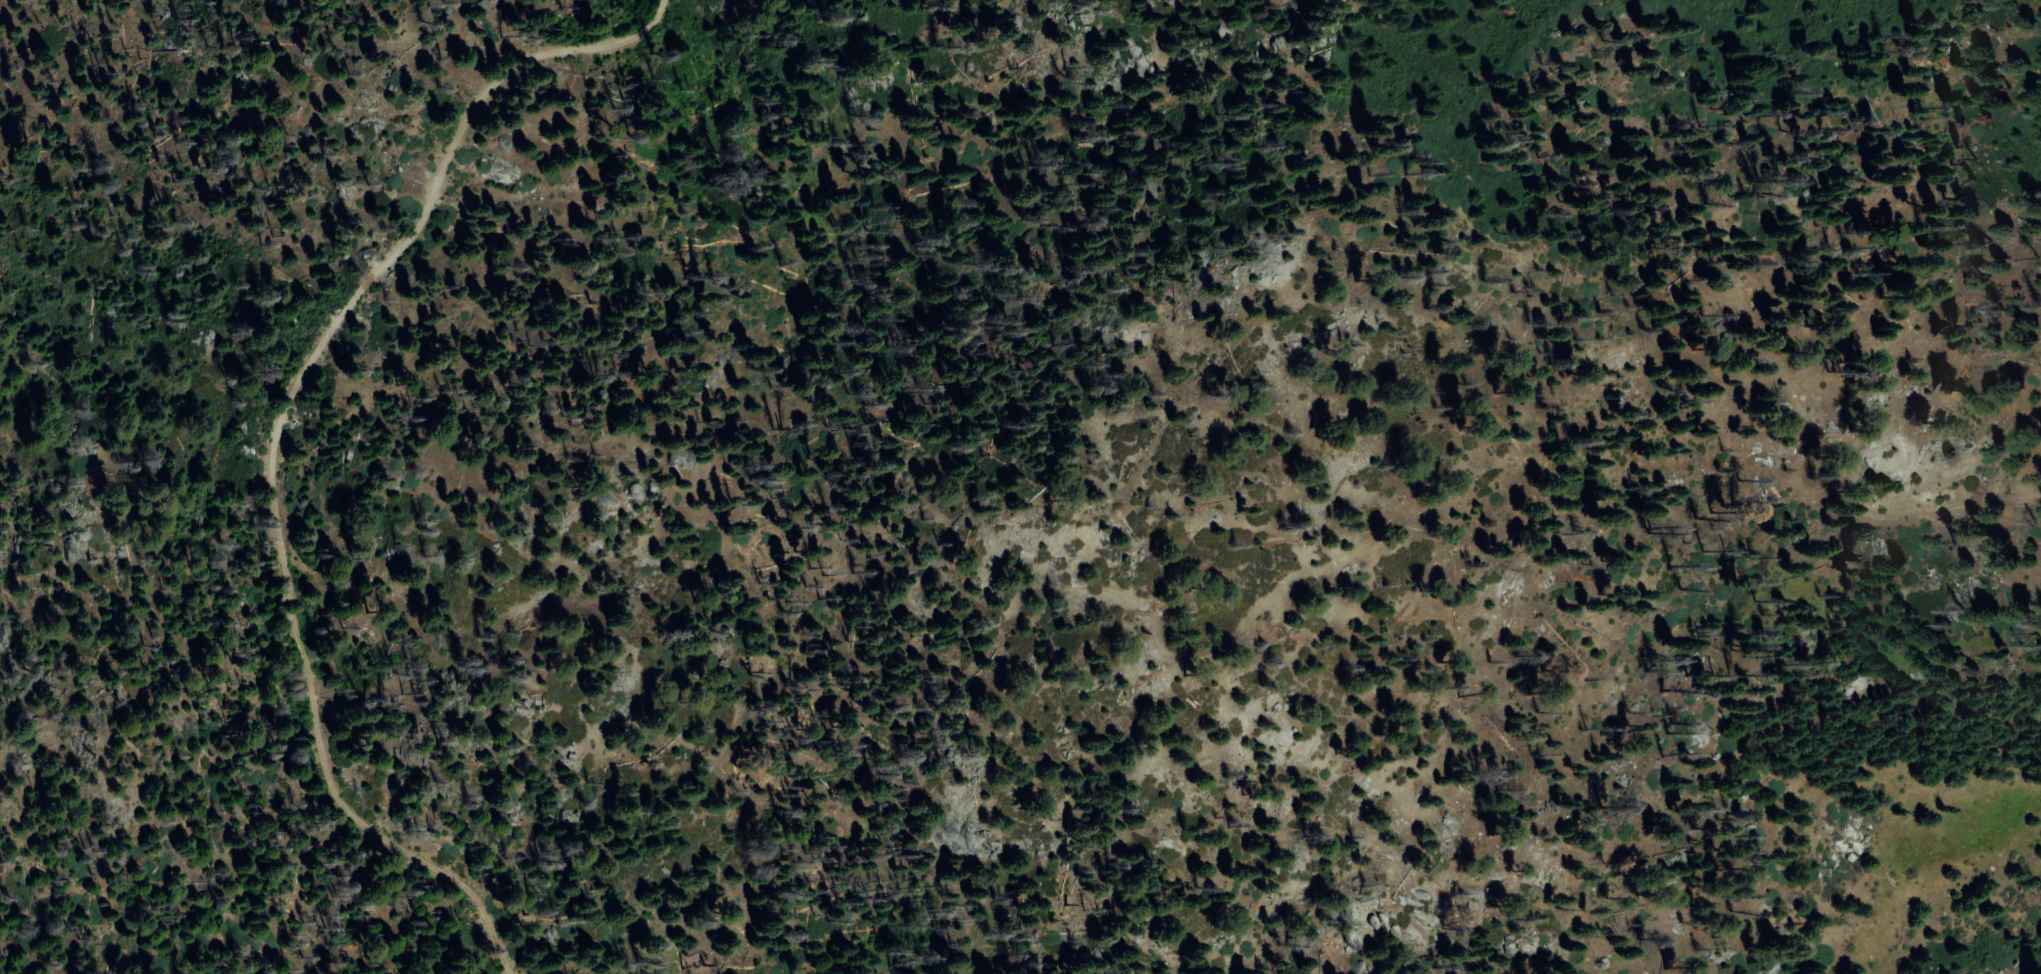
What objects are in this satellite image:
road: (276, 439)

